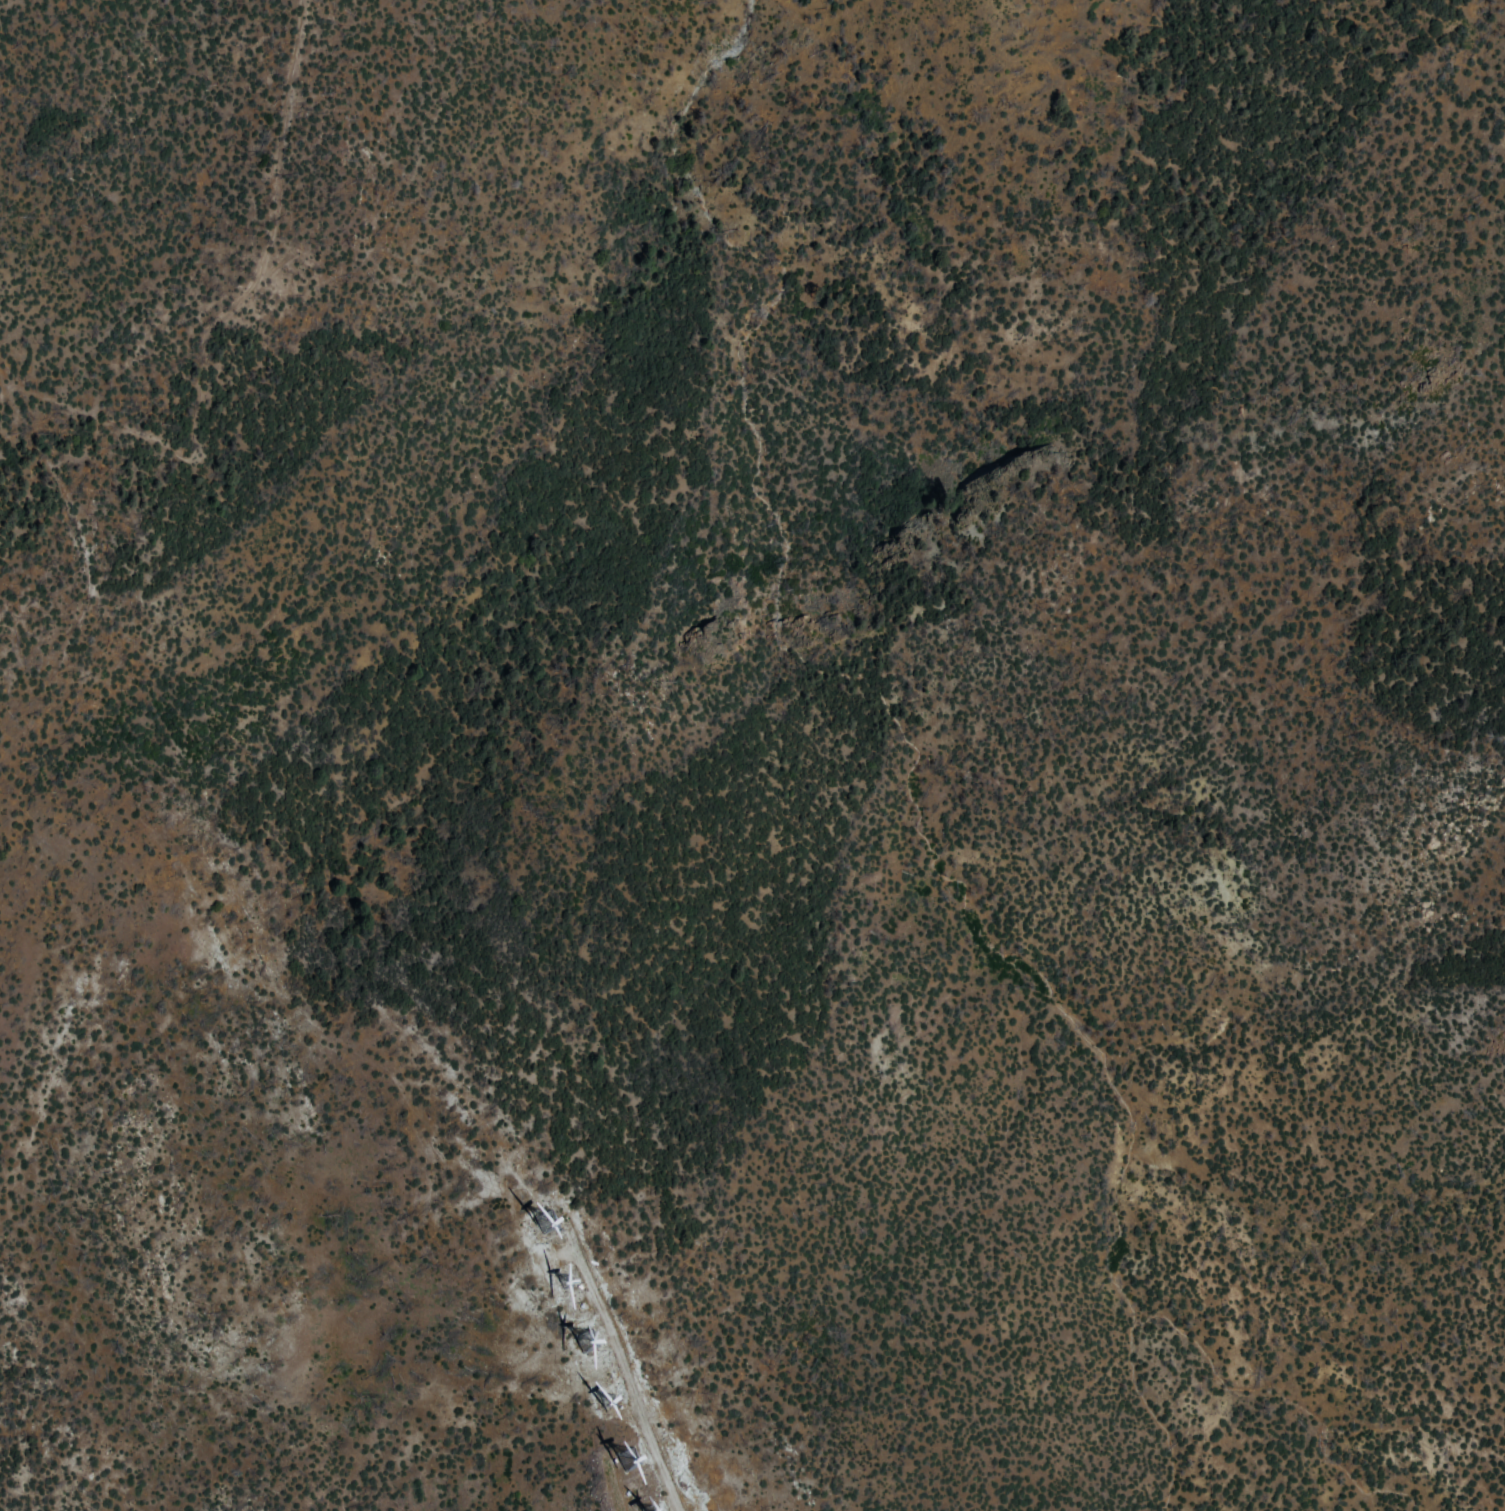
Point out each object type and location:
road: (120, 426)
road: (428, 1070)
wind turbine: (537, 1226)
wind turbine: (560, 1282)
wind turbine: (574, 1346)
wind turbine: (602, 1406)
wind turbine: (620, 1460)

